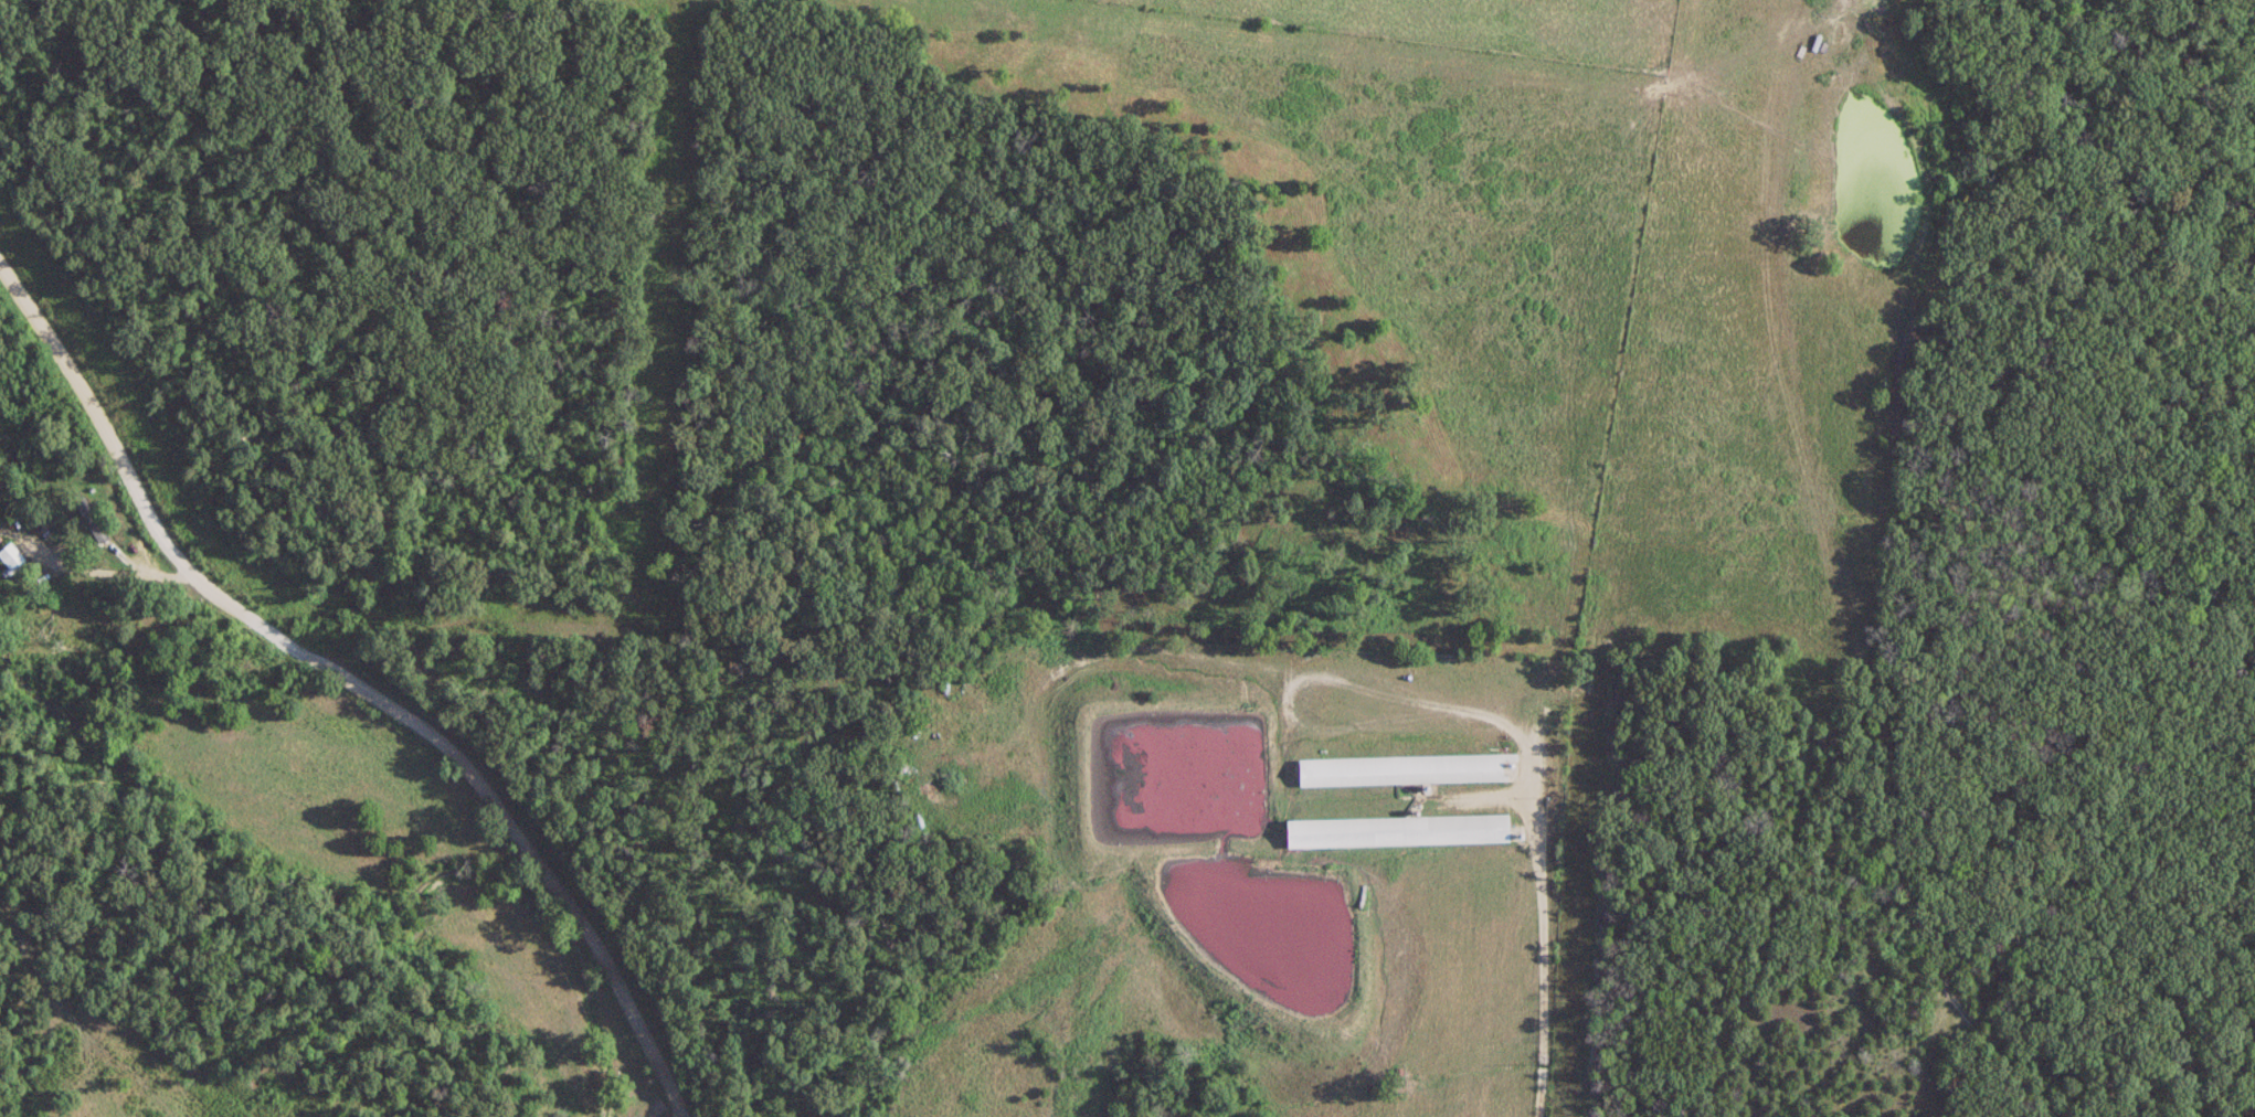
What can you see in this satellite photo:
building: (94, 520)
building: (11, 557)
road: (350, 683)
building: (1405, 769)
building: (1400, 830)
road: (1541, 950)

